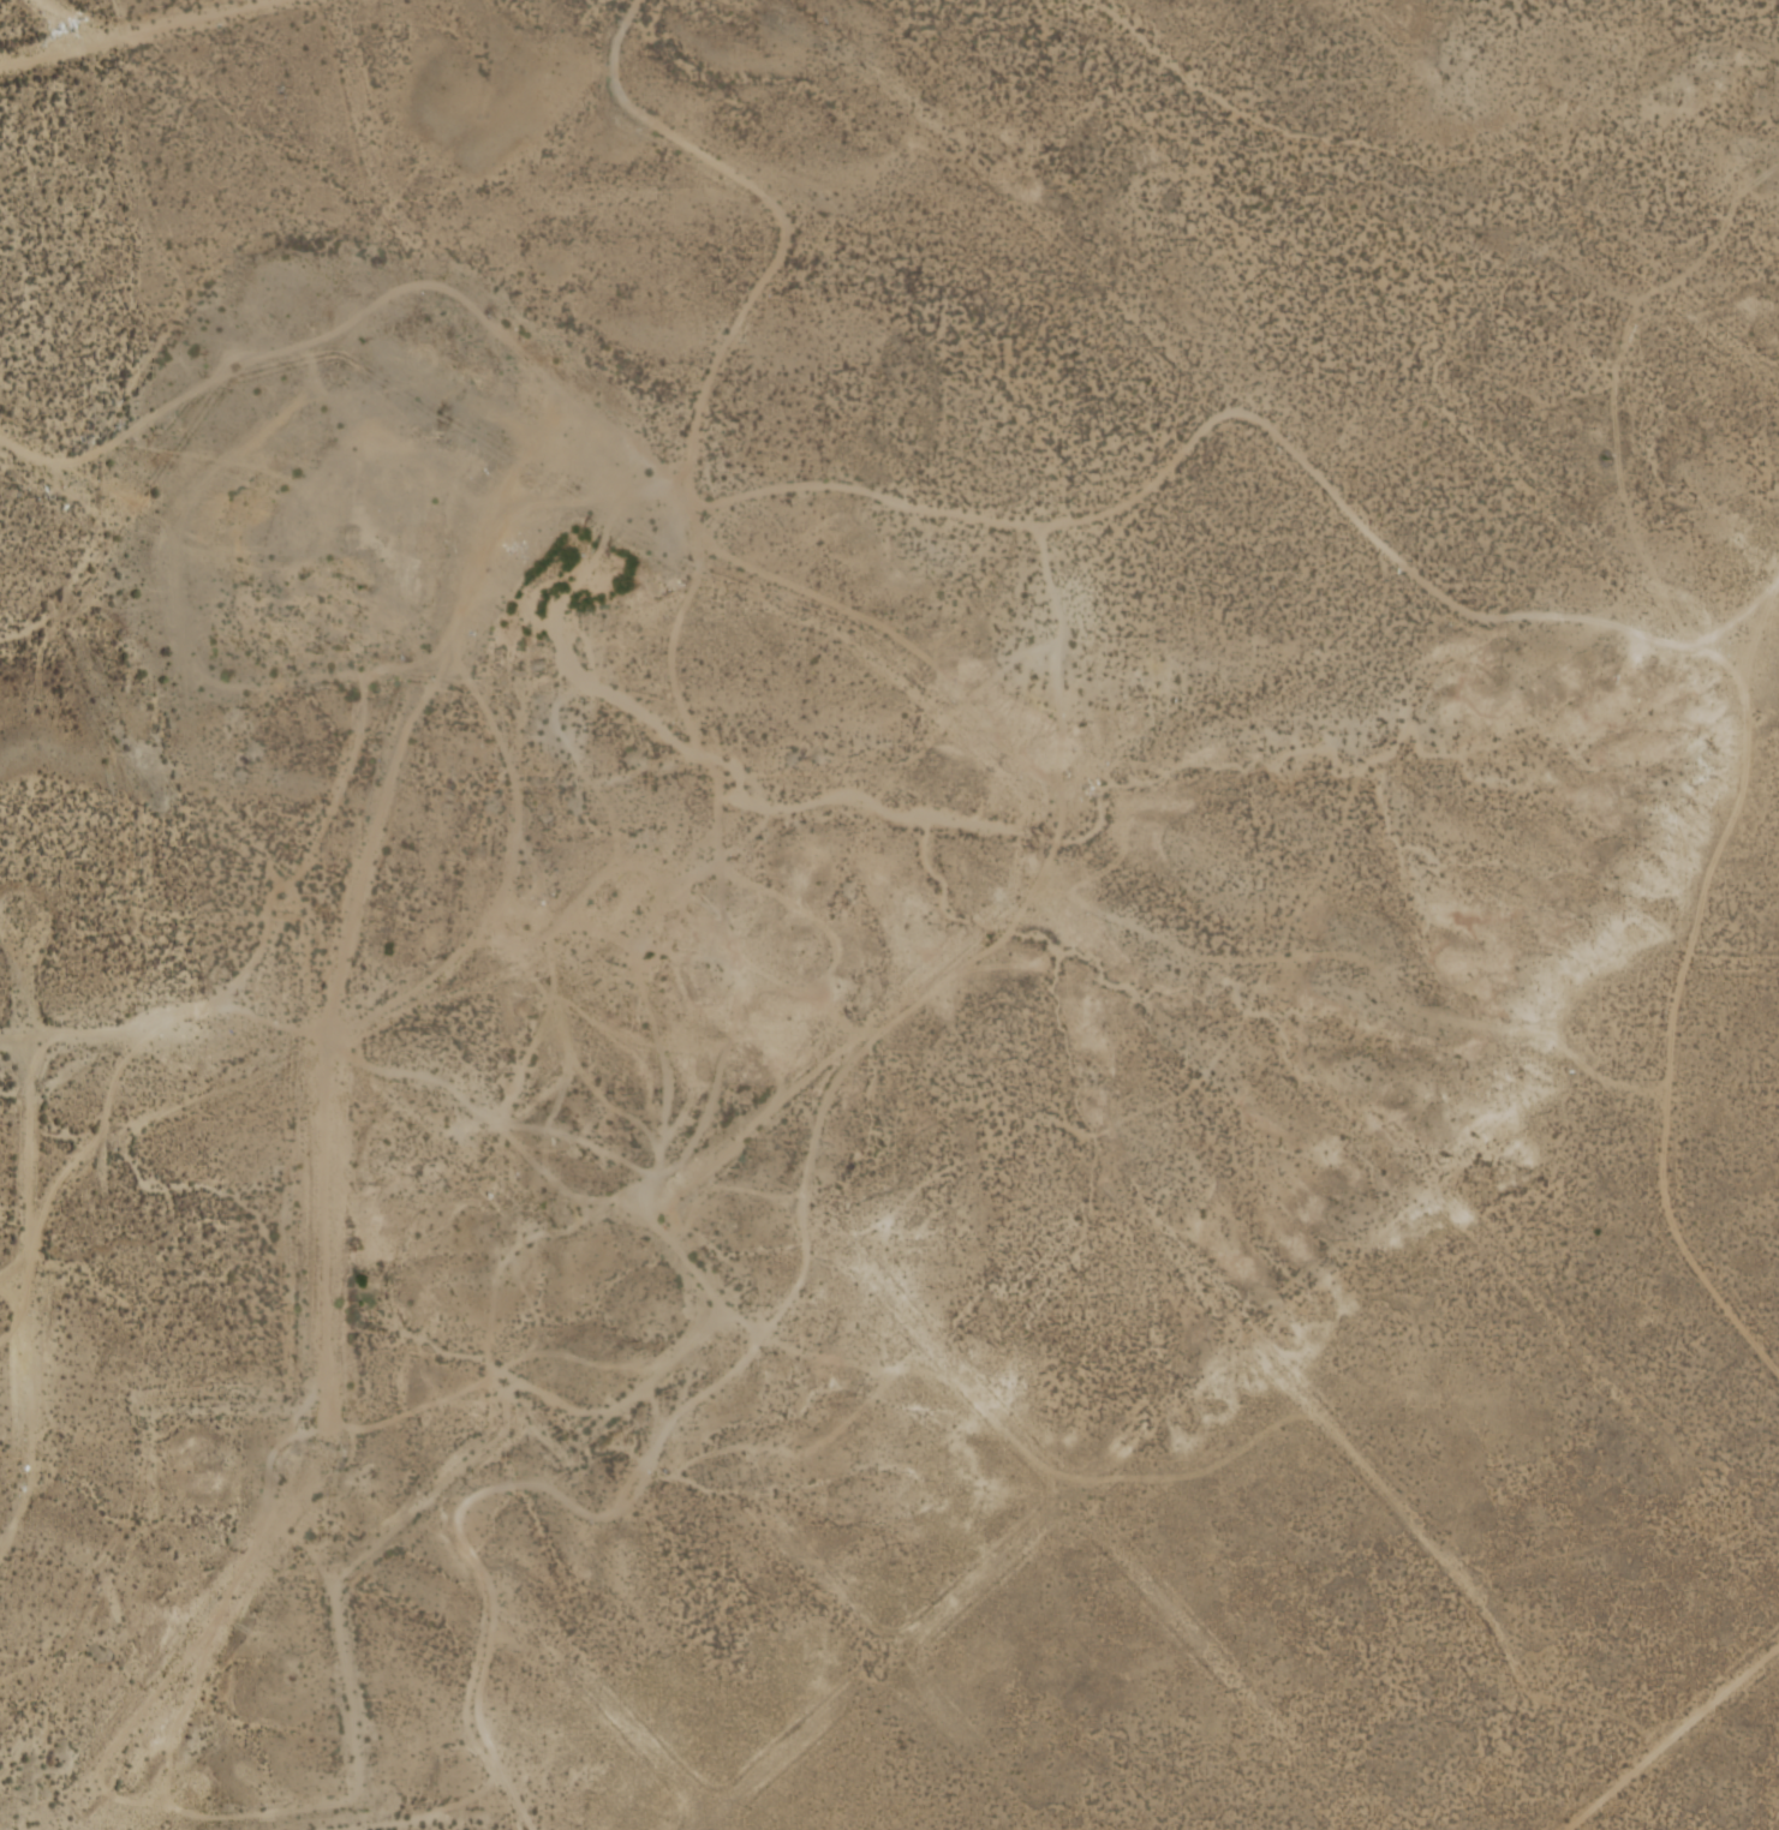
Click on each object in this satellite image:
road: (64, 23)
road: (44, 58)
road: (1520, 179)
road: (1662, 1729)
quarry: (133, 1823)

